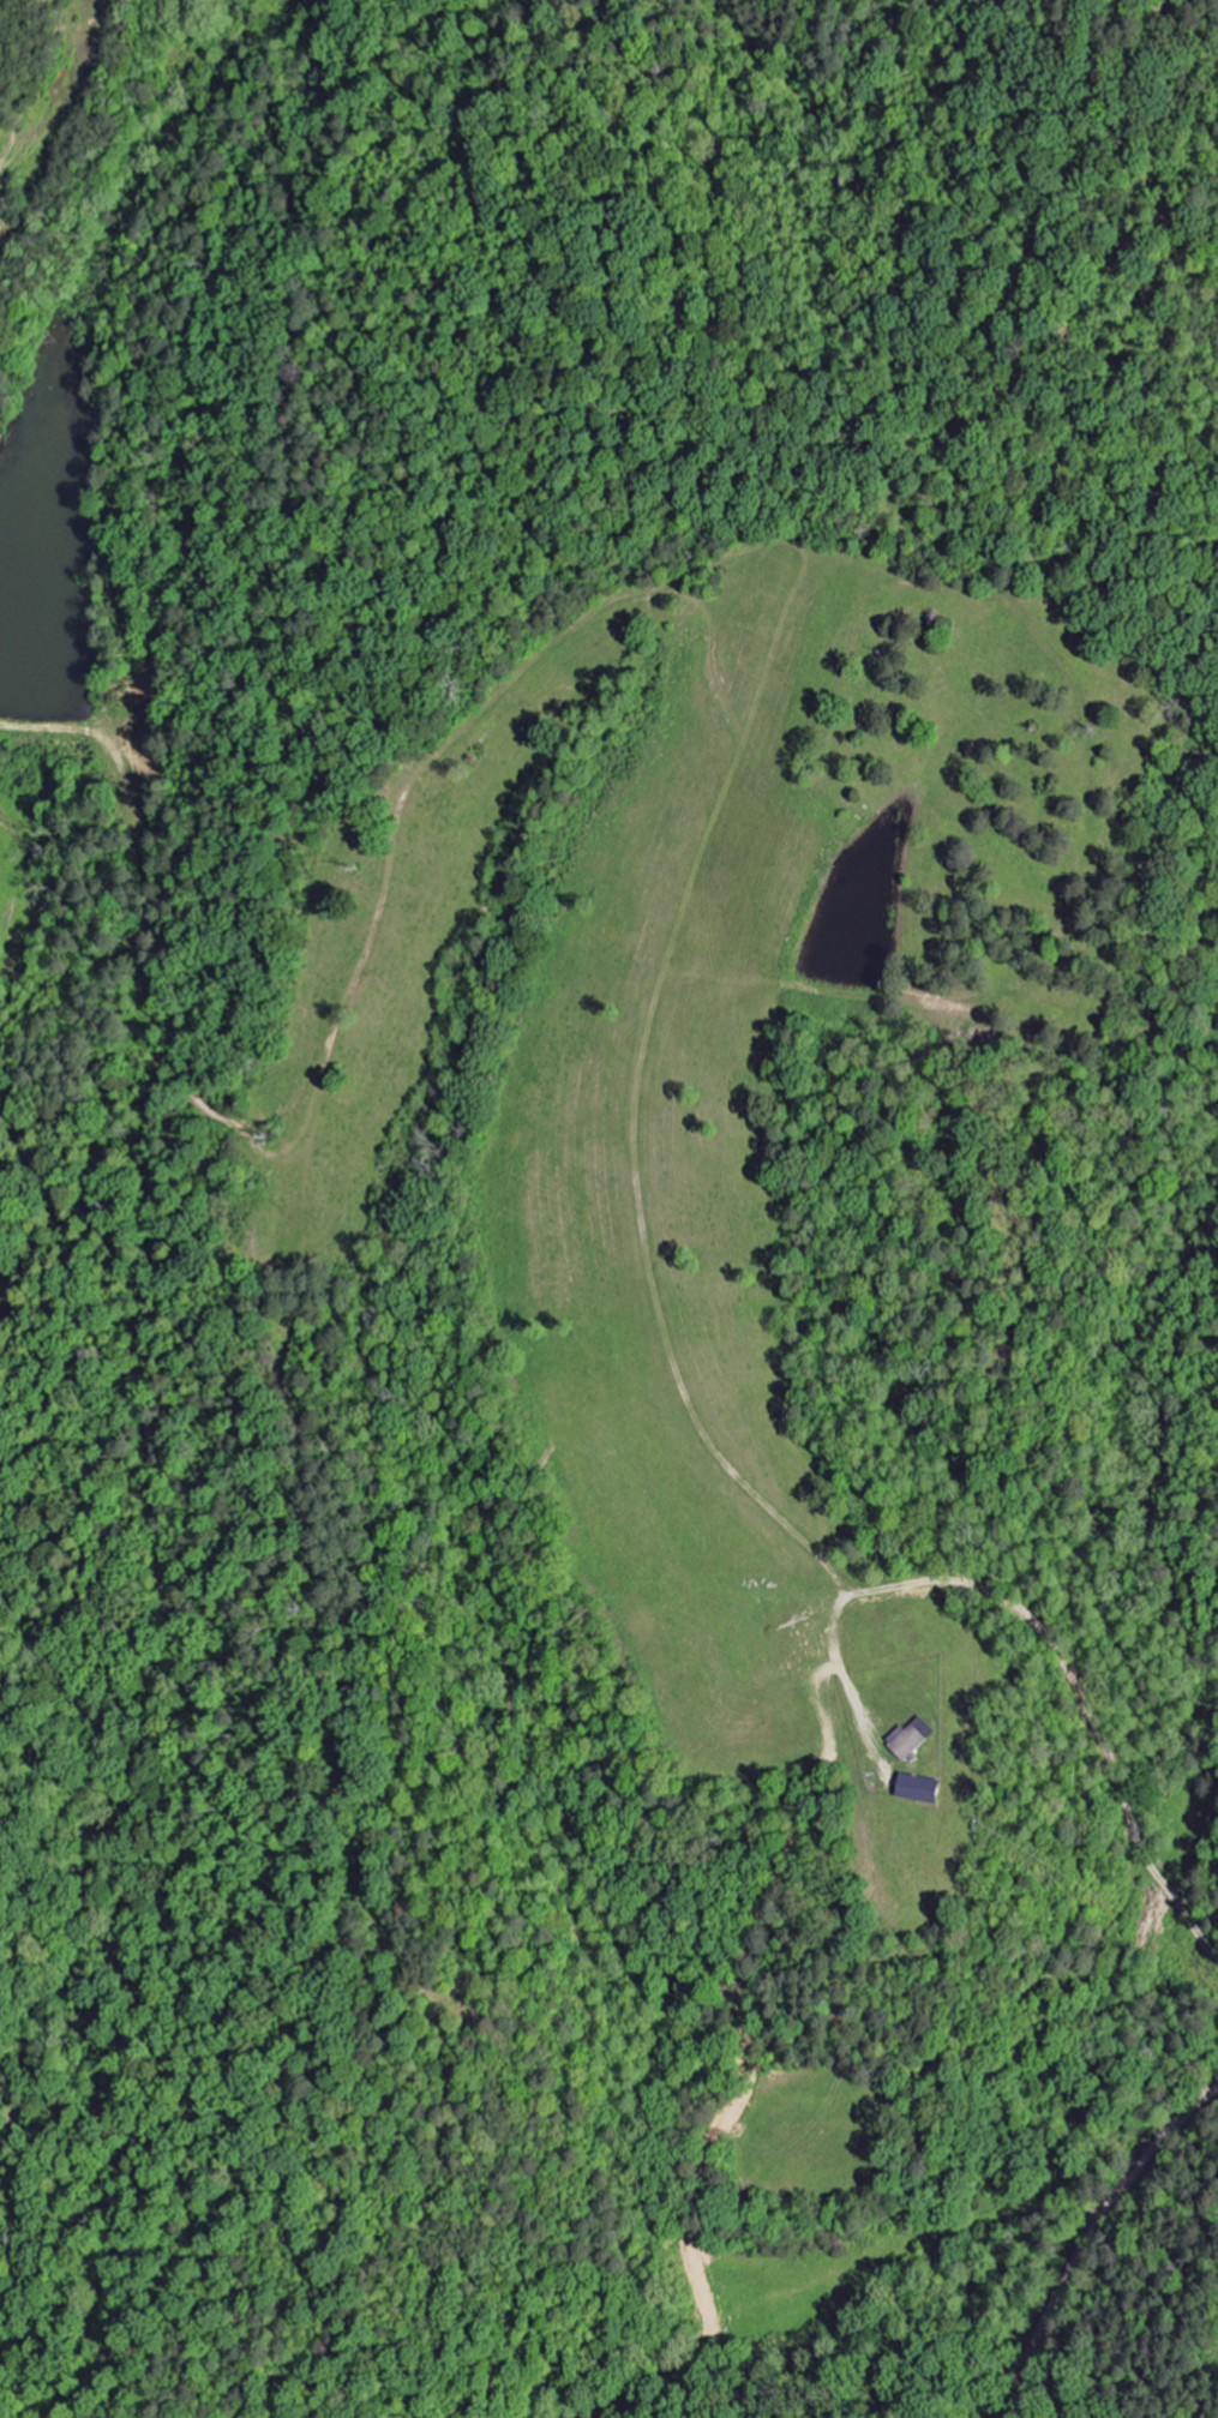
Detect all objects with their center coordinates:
building: (908, 1740)
building: (914, 1789)
road: (1092, 2234)
road: (896, 2326)

